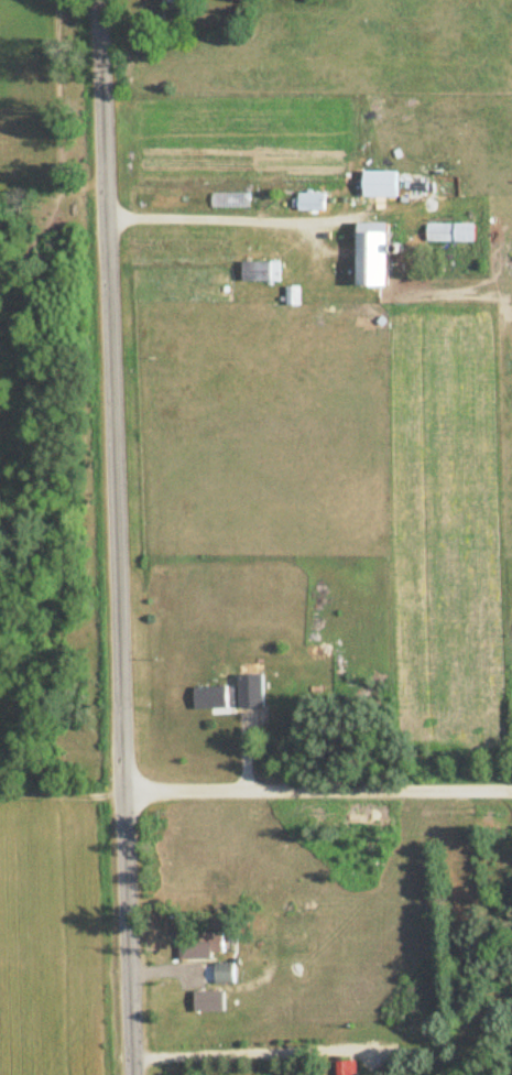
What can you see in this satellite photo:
building: (174, 2)
building: (448, 231)
building: (370, 252)
building: (260, 270)
road: (121, 536)
building: (249, 691)
building: (208, 697)
road: (320, 784)
building: (207, 942)
building: (222, 971)
building: (207, 1000)
building: (342, 1067)

